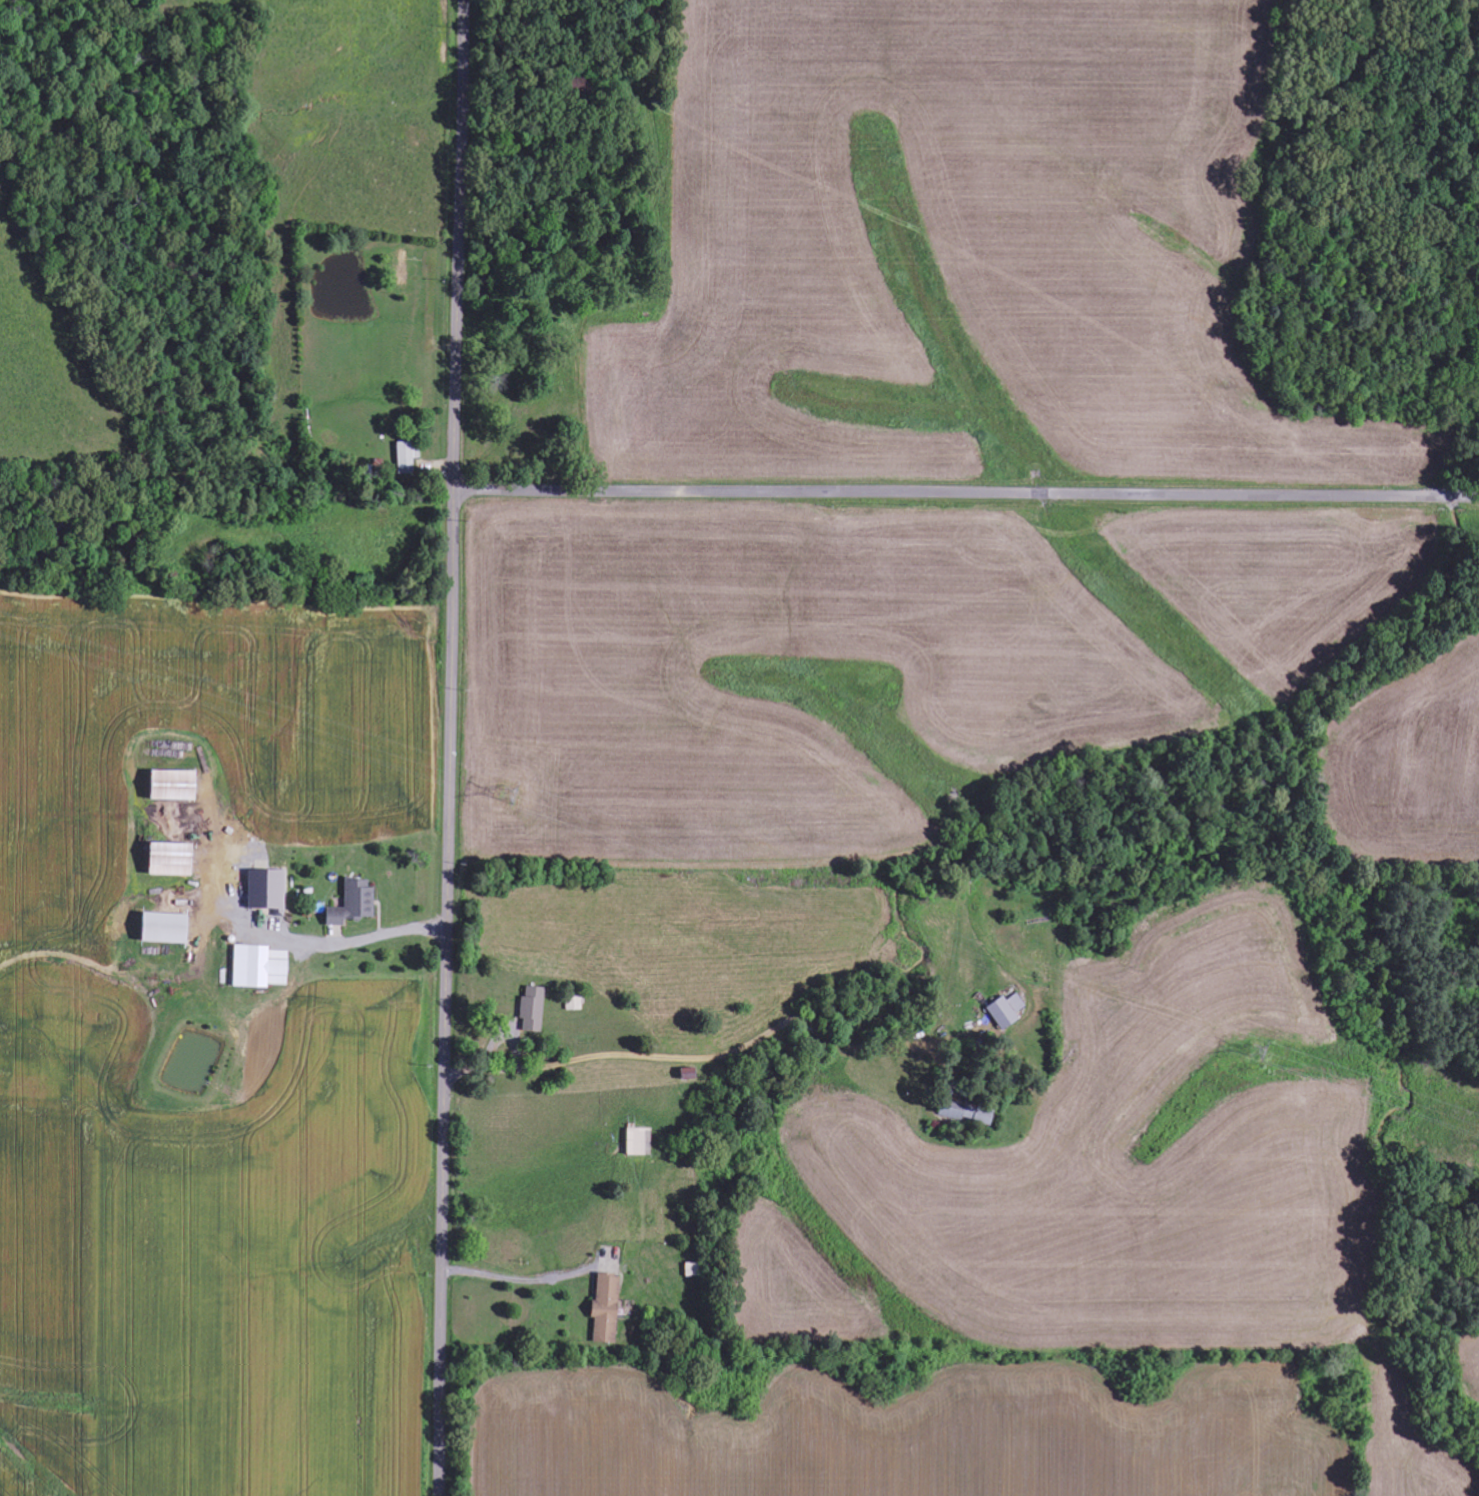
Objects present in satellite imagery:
building: (408, 455)
road: (967, 493)
road: (451, 747)
building: (176, 786)
power tower: (509, 795)
building: (174, 860)
building: (269, 890)
building: (356, 904)
building: (169, 929)
building: (262, 968)
building: (534, 1009)
building: (1008, 1012)
power tower: (1247, 1046)
building: (968, 1114)
building: (640, 1142)
building: (608, 1309)
road: (690, 1419)

